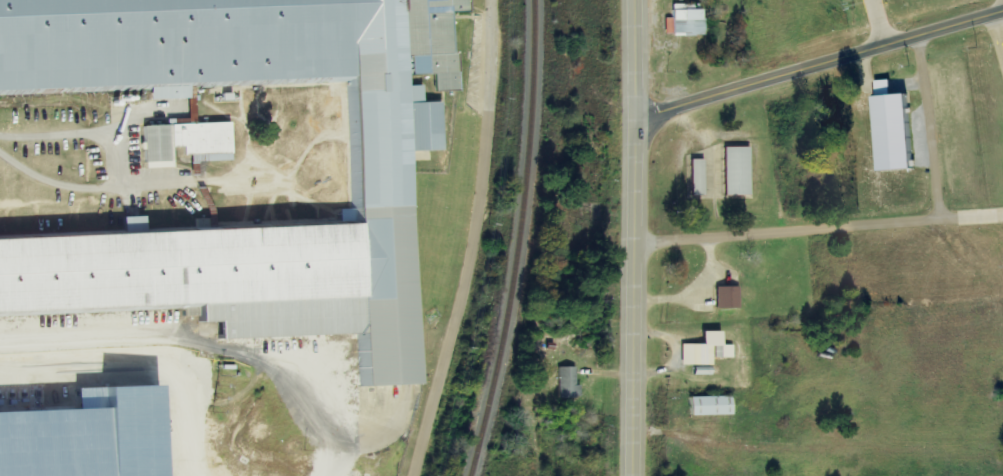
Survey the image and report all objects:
building: (686, 21)
road: (635, 60)
road: (819, 66)
building: (897, 129)
building: (739, 171)
building: (699, 177)
road: (877, 225)
railway: (518, 240)
road: (474, 241)
road: (634, 298)
building: (729, 298)
building: (708, 350)
building: (570, 383)
building: (714, 406)

